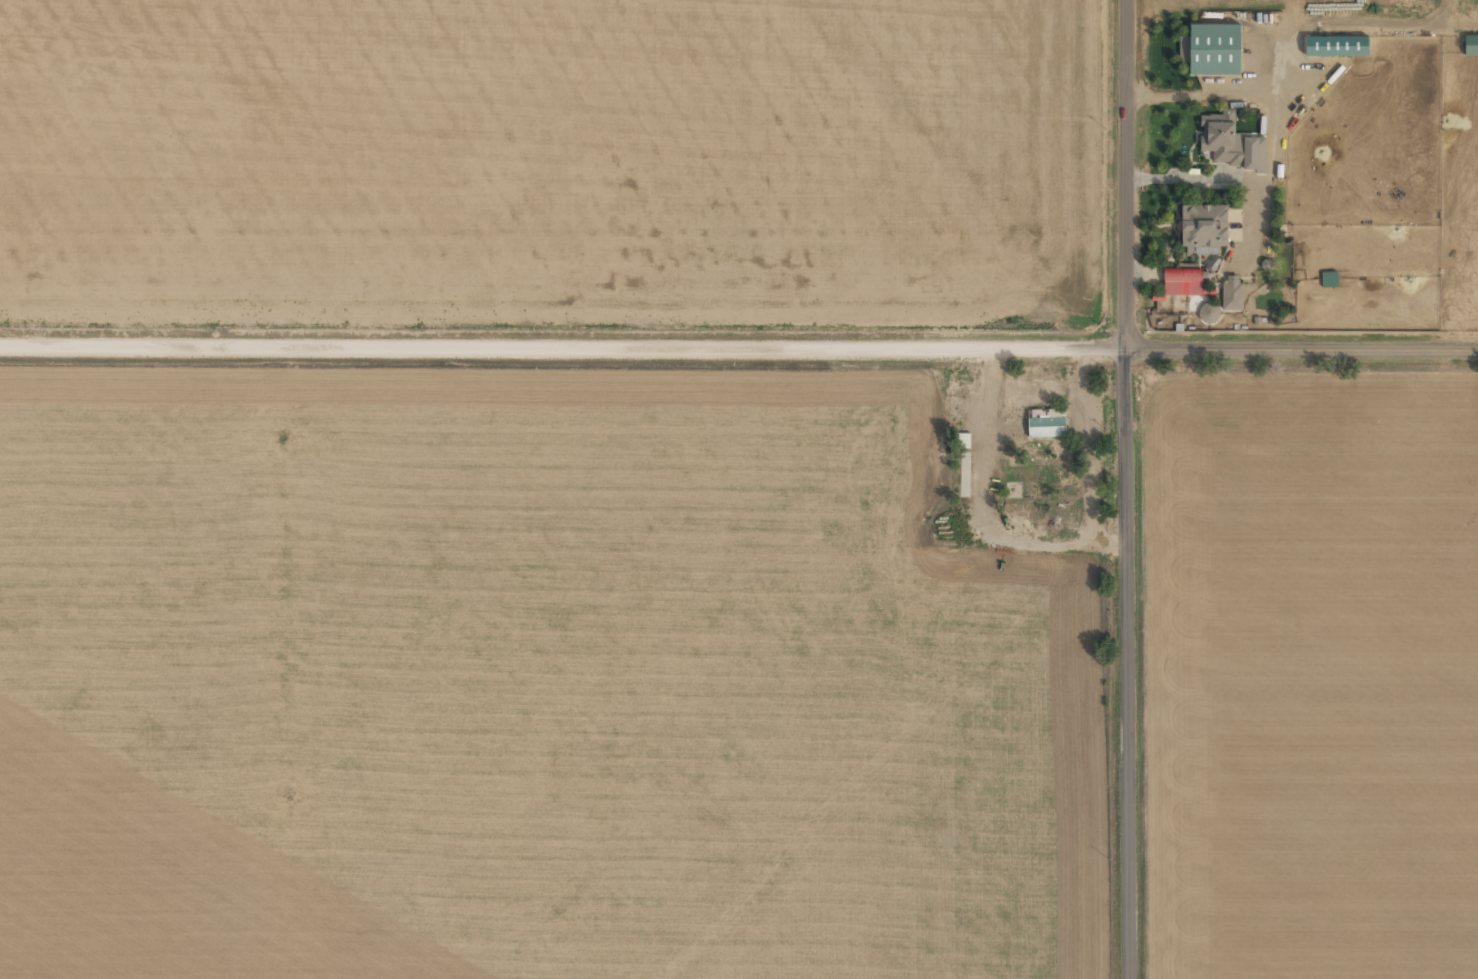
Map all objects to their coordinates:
building: (1336, 45)
building: (1184, 49)
building: (1212, 49)
road: (1264, 63)
building: (1220, 138)
road: (1263, 138)
road: (1262, 224)
building: (1203, 226)
building: (1179, 282)
building: (1231, 294)
building: (1208, 312)
road: (739, 347)
building: (1046, 422)
road: (1127, 489)

